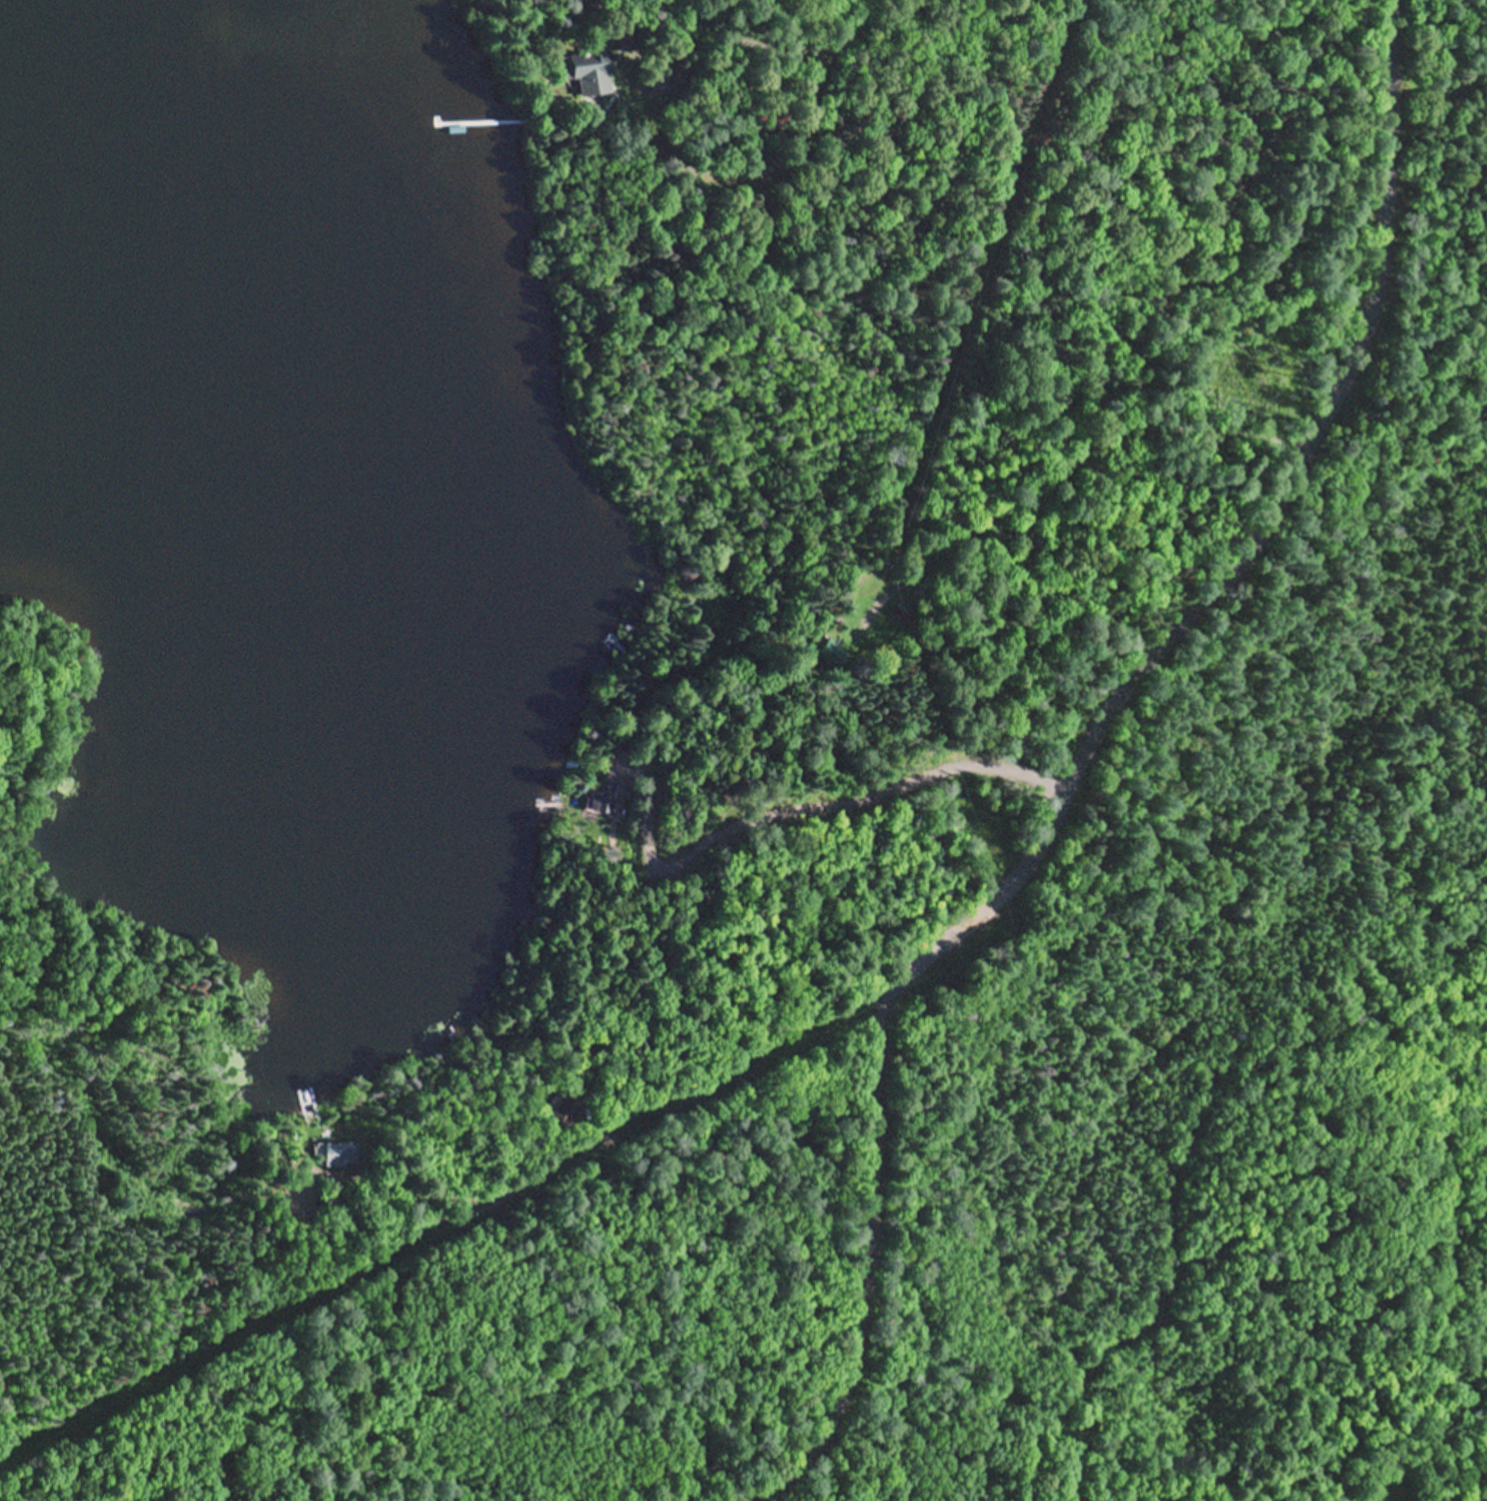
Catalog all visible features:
road: (824, 27)
road: (933, 547)
road: (699, 736)
road: (1065, 791)
road: (326, 1148)
road: (588, 1198)

